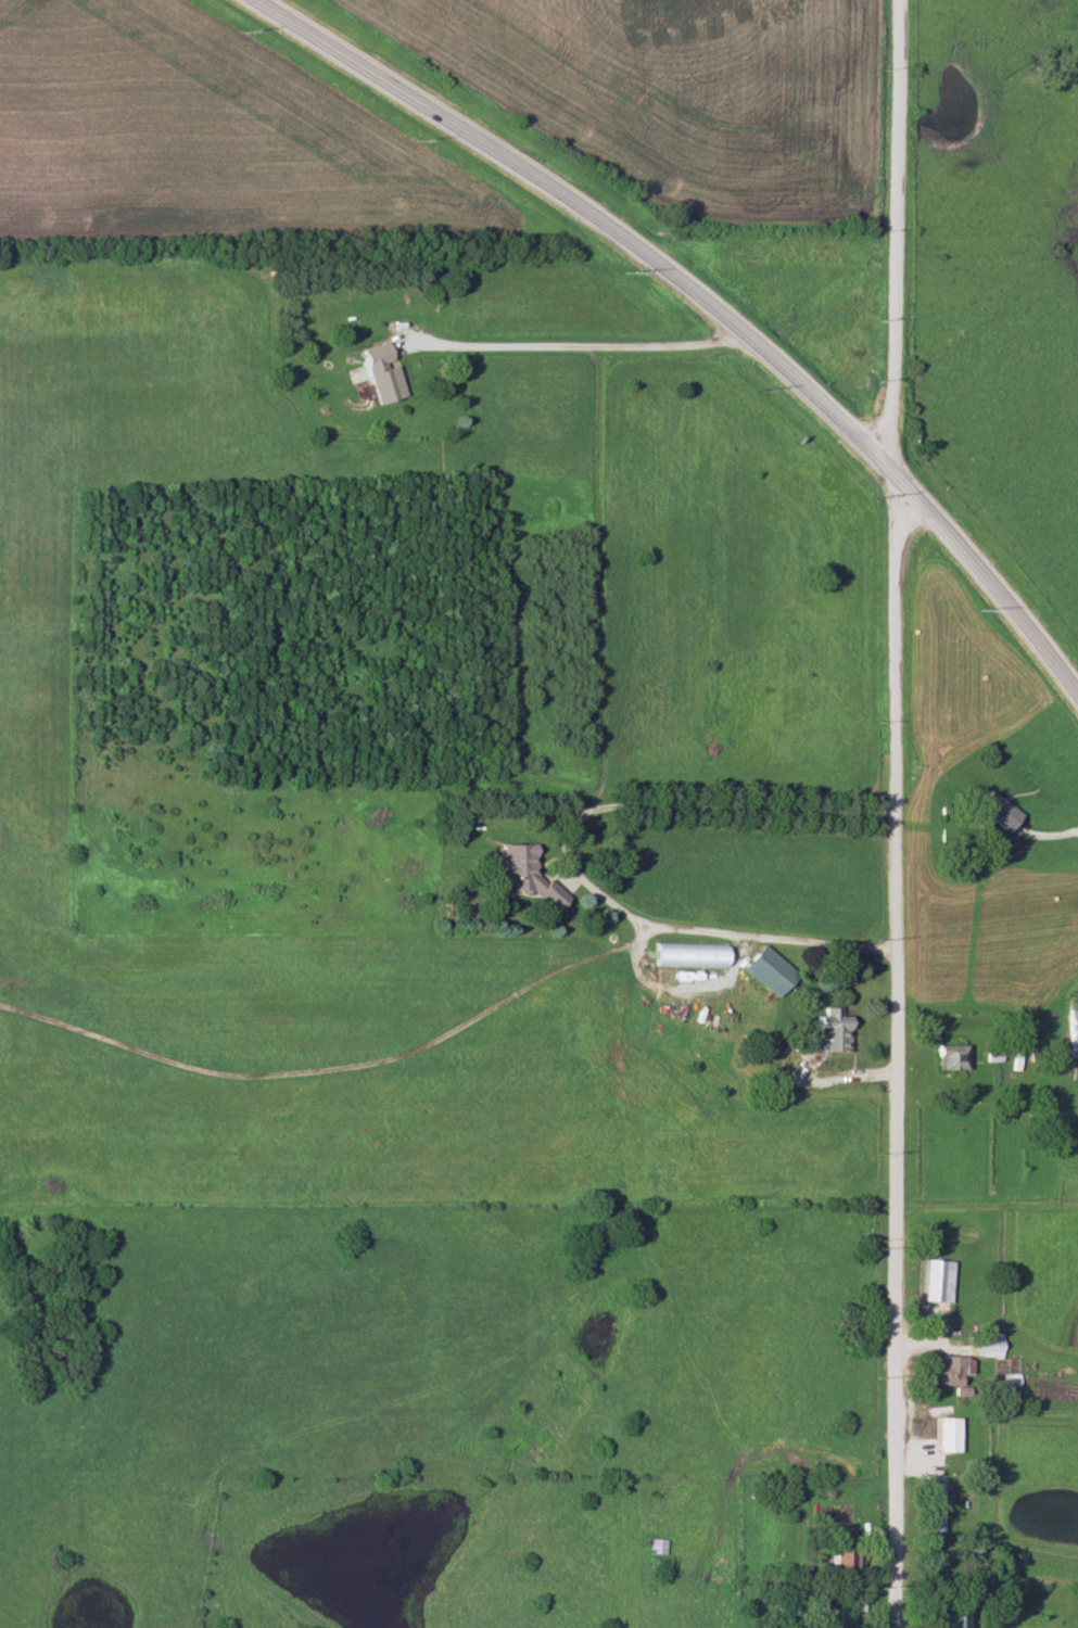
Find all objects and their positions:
road: (987, 124)
road: (904, 239)
road: (707, 297)
road: (573, 347)
building: (378, 372)
road: (662, 805)
building: (994, 811)
road: (1048, 837)
building: (528, 875)
building: (689, 954)
building: (766, 971)
road: (979, 1005)
building: (1070, 1027)
building: (828, 1031)
road: (454, 1034)
road: (898, 1052)
building: (946, 1058)
building: (1076, 1103)
road: (737, 1132)
building: (935, 1281)
building: (987, 1345)
building: (943, 1371)
building: (943, 1436)
building: (930, 1506)
building: (658, 1547)
building: (838, 1560)
building: (948, 1616)

